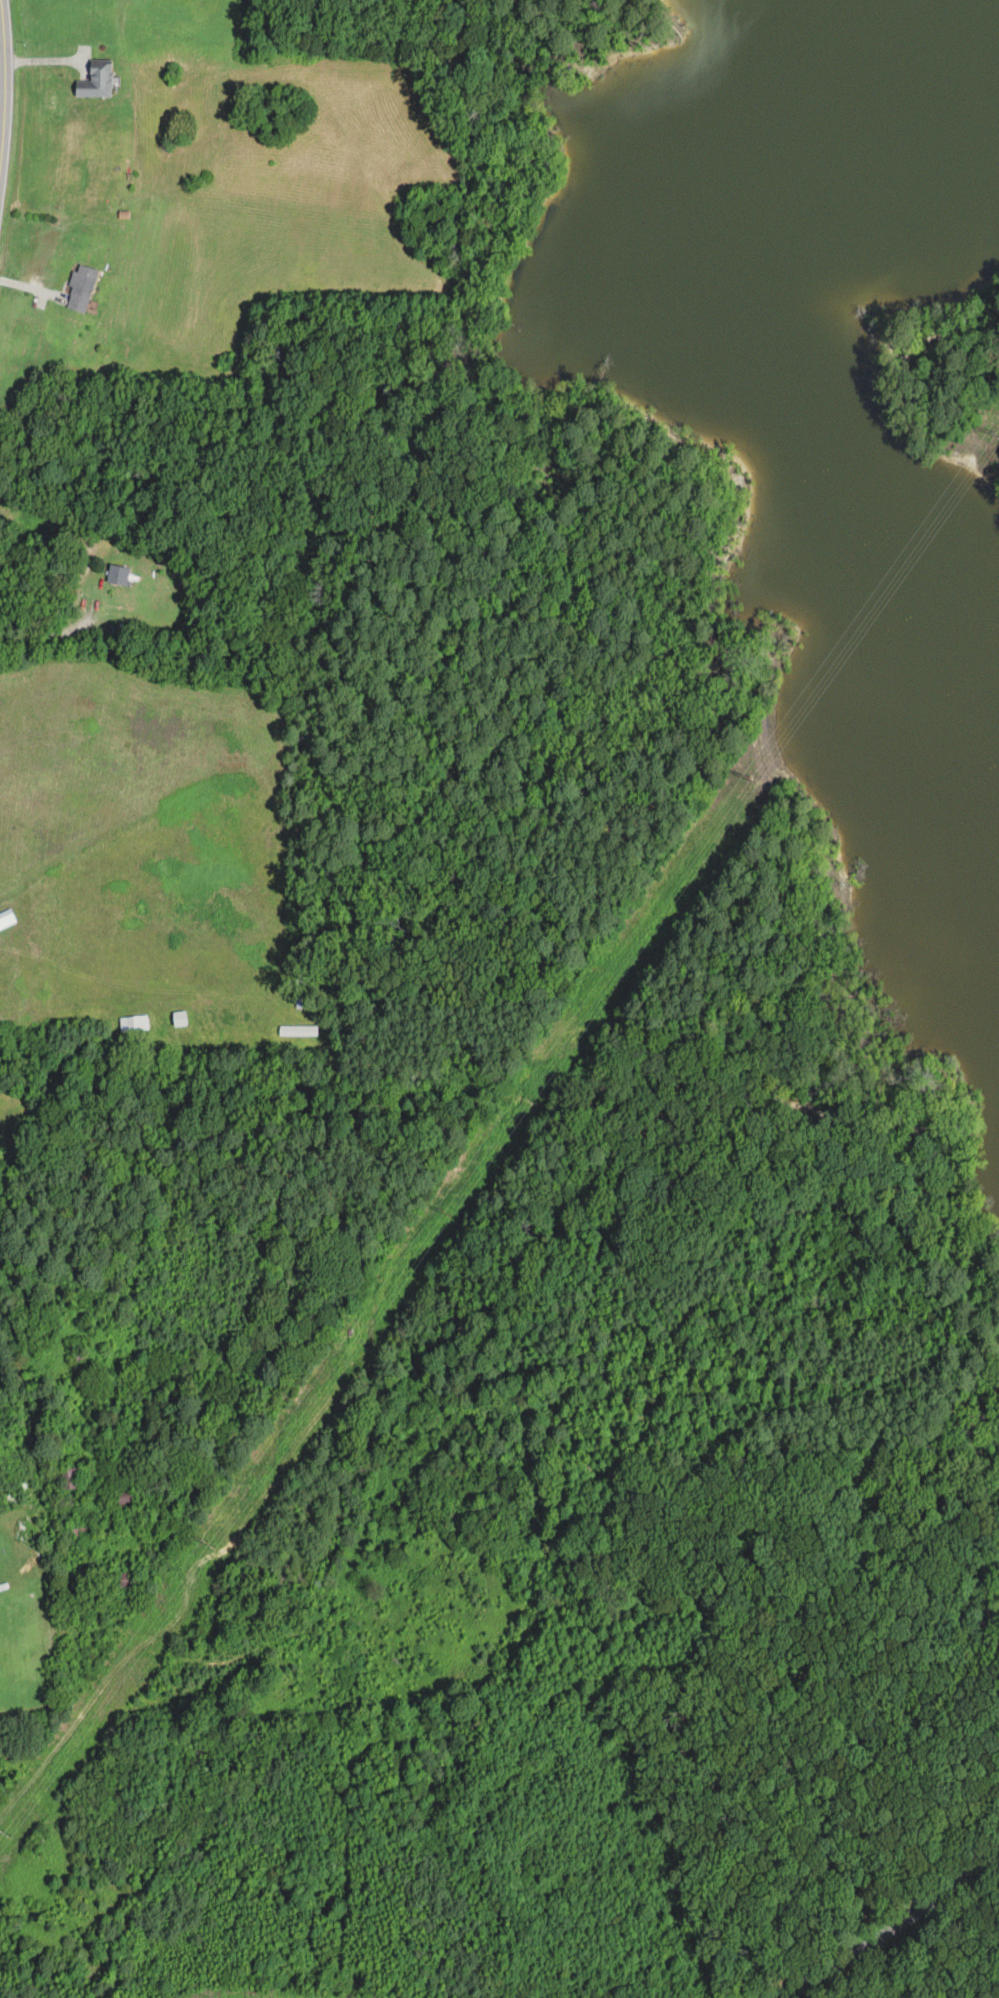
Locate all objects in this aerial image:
building: (96, 80)
road: (9, 97)
building: (85, 289)
power tower: (998, 434)
building: (119, 574)
power tower: (755, 779)
building: (6, 918)
building: (179, 1017)
building: (133, 1023)
building: (298, 1030)
power tower: (448, 1209)
building: (77, 1477)
building: (124, 1498)
building: (82, 1529)
power tower: (212, 1543)
road: (18, 1572)
building: (123, 1580)
power tower: (9, 1828)
road: (890, 1929)

